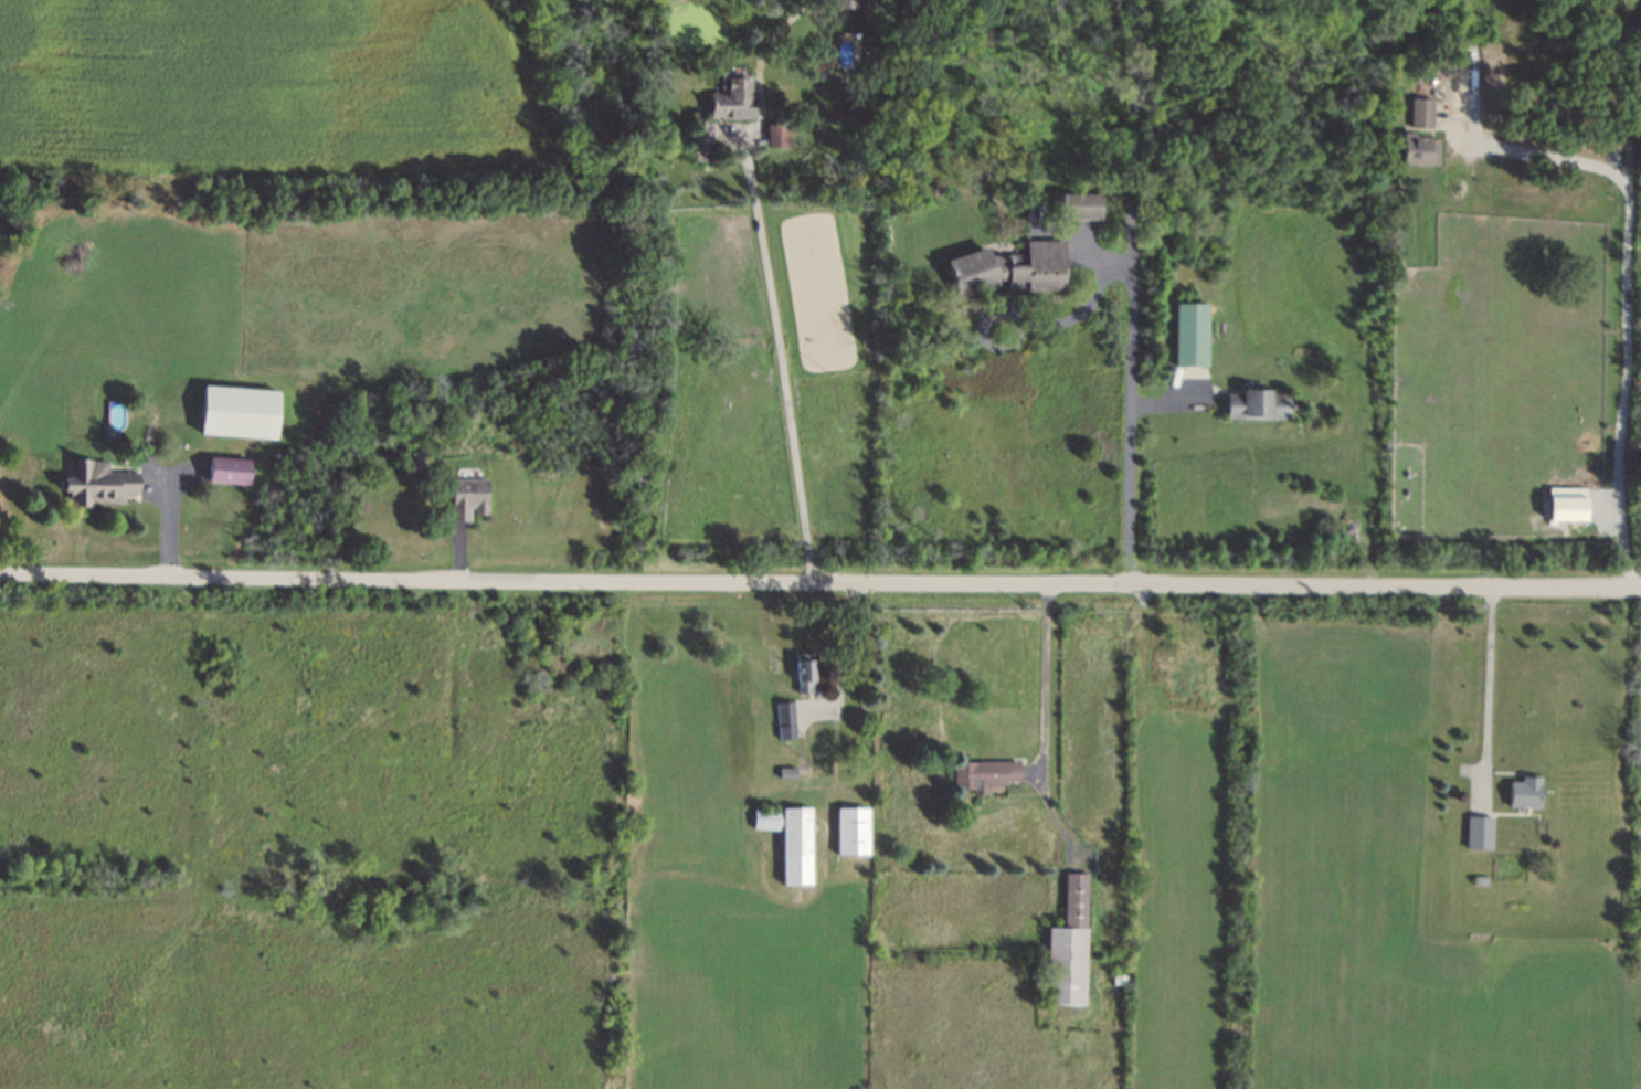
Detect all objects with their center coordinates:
building: (847, 4)
road: (756, 70)
building: (733, 96)
road: (1630, 98)
building: (1421, 115)
building: (777, 135)
building: (701, 136)
building: (1419, 152)
building: (1079, 208)
building: (1007, 269)
road: (1628, 288)
road: (1132, 292)
crop: (292, 303)
building: (1190, 335)
road: (777, 367)
crop: (1506, 369)
building: (1258, 405)
building: (236, 413)
building: (227, 472)
building: (98, 484)
building: (466, 499)
building: (1567, 504)
road: (819, 583)
road: (847, 646)
building: (805, 673)
road: (1489, 695)
building: (785, 720)
road: (1045, 721)
building: (985, 775)
building: (1525, 793)
building: (766, 821)
building: (851, 832)
building: (1480, 833)
building: (795, 847)
building: (1482, 880)
crop: (1175, 896)
building: (1069, 944)

